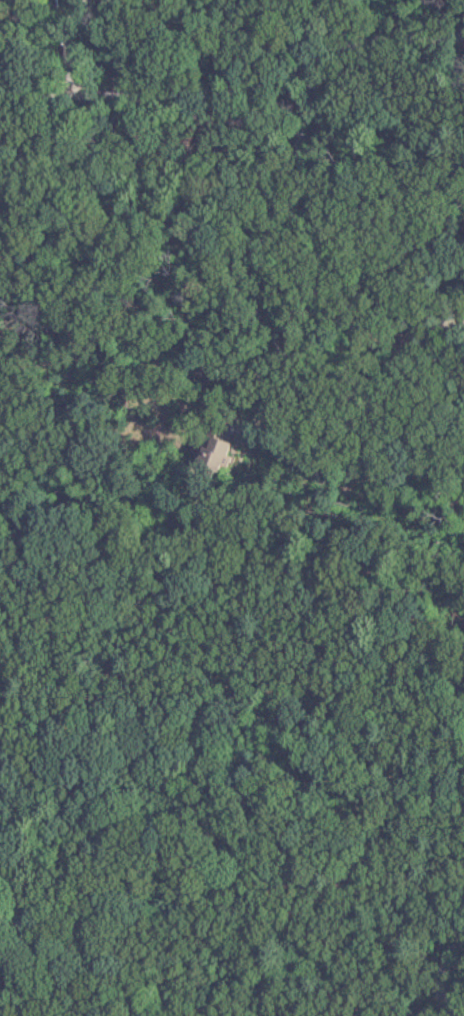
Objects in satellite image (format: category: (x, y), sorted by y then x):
road: (69, 50)
road: (233, 82)
road: (269, 240)
building: (221, 454)
road: (431, 968)

